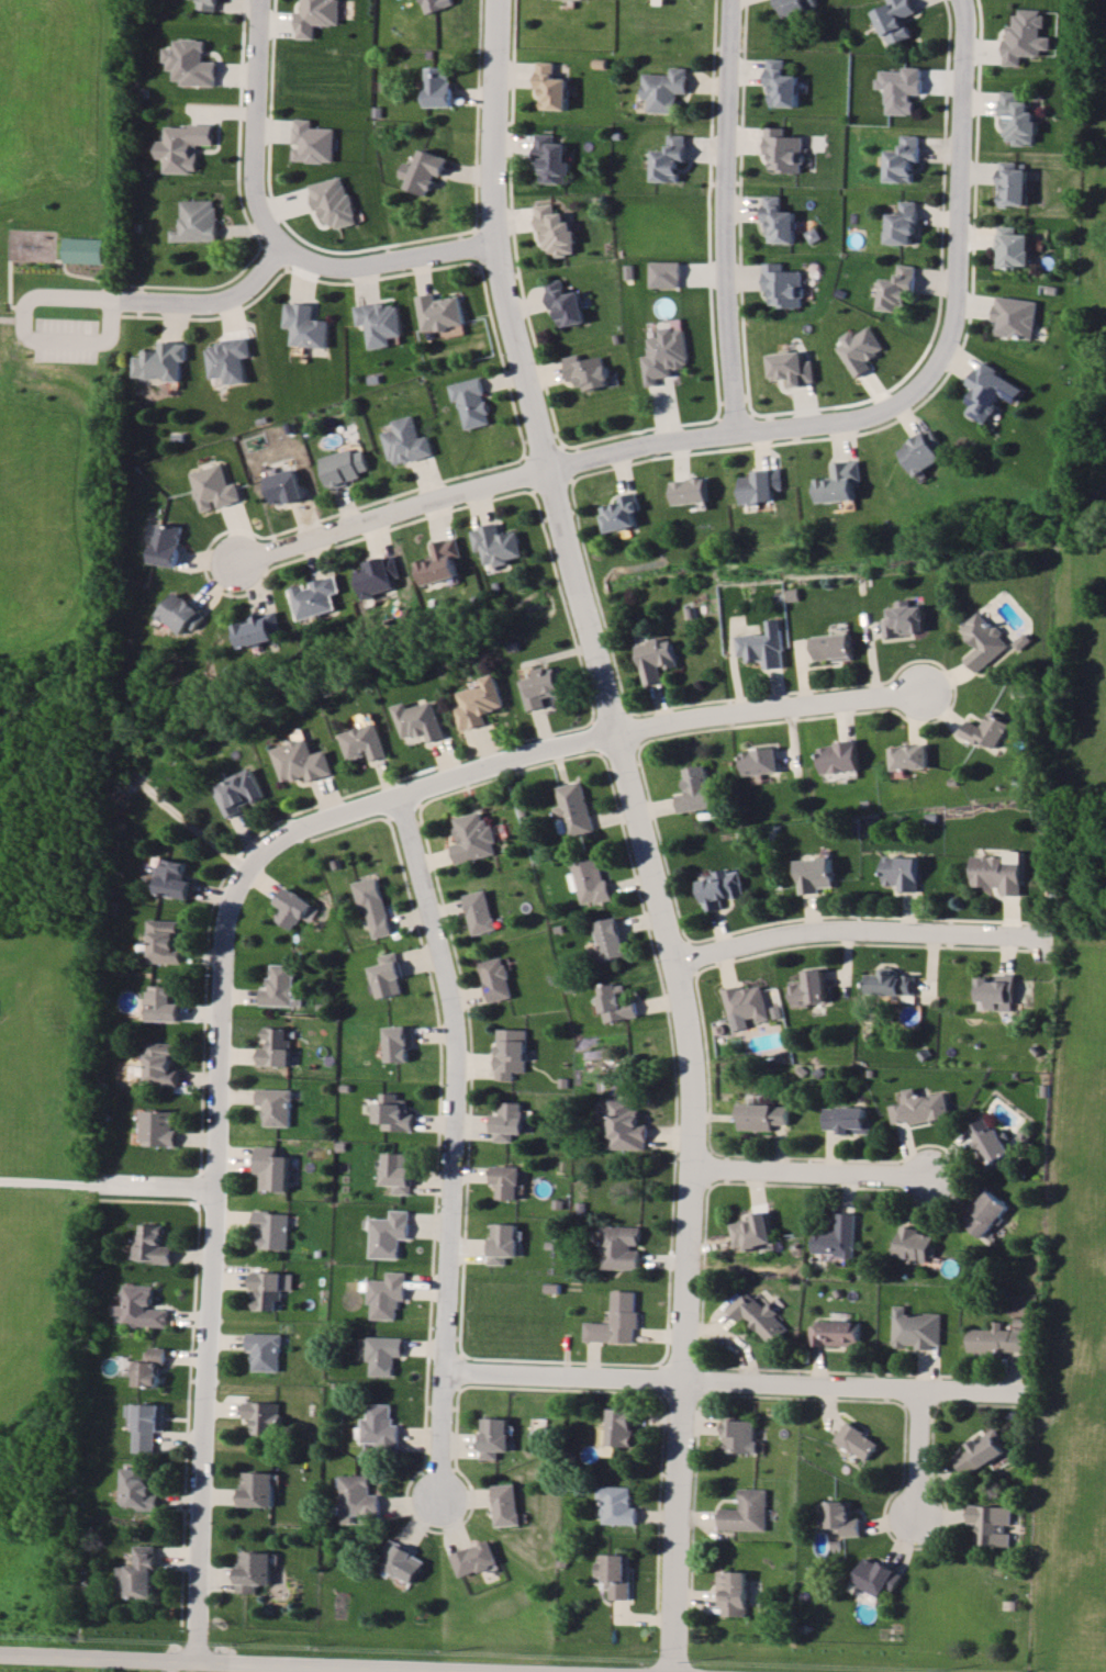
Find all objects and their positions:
building: (436, 4)
building: (208, 5)
building: (795, 5)
building: (317, 18)
building: (895, 19)
building: (1025, 24)
building: (189, 64)
building: (781, 82)
building: (550, 88)
building: (901, 88)
building: (437, 89)
building: (666, 90)
building: (1017, 104)
road: (477, 109)
road: (238, 119)
building: (313, 142)
building: (183, 148)
building: (783, 148)
building: (550, 158)
building: (668, 158)
building: (902, 158)
building: (424, 170)
building: (1012, 171)
road: (256, 194)
building: (333, 201)
road: (740, 201)
road: (711, 202)
road: (279, 205)
road: (730, 210)
road: (513, 218)
building: (777, 218)
building: (195, 221)
building: (901, 224)
building: (554, 228)
building: (1012, 234)
road: (478, 237)
road: (457, 243)
road: (272, 246)
building: (85, 250)
road: (383, 266)
road: (941, 269)
road: (209, 273)
building: (663, 274)
building: (781, 284)
building: (896, 287)
road: (139, 290)
road: (78, 291)
building: (562, 302)
building: (1014, 302)
road: (220, 305)
building: (437, 311)
road: (10, 319)
building: (378, 322)
building: (303, 324)
park: (51, 326)
road: (950, 335)
building: (857, 349)
road: (502, 350)
building: (662, 354)
building: (227, 358)
building: (160, 360)
building: (787, 367)
building: (585, 370)
road: (935, 375)
building: (990, 378)
building: (469, 401)
road: (731, 404)
road: (638, 418)
road: (543, 438)
building: (923, 438)
building: (403, 440)
road: (567, 452)
road: (527, 461)
building: (340, 465)
building: (838, 469)
building: (761, 472)
road: (550, 476)
building: (691, 478)
building: (281, 485)
building: (211, 486)
road: (442, 489)
building: (693, 491)
road: (351, 498)
building: (622, 500)
road: (356, 529)
building: (496, 542)
building: (164, 543)
building: (440, 561)
building: (377, 575)
road: (597, 586)
road: (563, 595)
building: (314, 596)
building: (179, 613)
building: (906, 619)
building: (258, 628)
building: (983, 641)
building: (766, 646)
building: (835, 647)
building: (658, 659)
building: (543, 686)
road: (767, 699)
building: (480, 703)
road: (610, 710)
road: (630, 715)
building: (421, 720)
road: (601, 729)
building: (986, 730)
road: (622, 736)
building: (365, 742)
building: (841, 756)
building: (911, 756)
building: (302, 761)
building: (761, 761)
building: (696, 789)
building: (239, 792)
building: (573, 810)
road: (644, 829)
building: (474, 838)
building: (904, 873)
building: (817, 874)
building: (999, 874)
building: (175, 878)
building: (591, 880)
building: (722, 888)
building: (375, 905)
building: (293, 908)
building: (482, 911)
road: (854, 931)
building: (612, 939)
building: (167, 942)
building: (389, 976)
building: (500, 979)
building: (891, 983)
building: (282, 986)
building: (812, 988)
building: (998, 992)
building: (618, 1002)
building: (747, 1003)
building: (165, 1005)
building: (401, 1043)
building: (277, 1047)
building: (513, 1053)
road: (220, 1059)
building: (161, 1064)
building: (277, 1106)
building: (921, 1108)
building: (394, 1113)
building: (763, 1114)
building: (848, 1120)
building: (512, 1121)
building: (624, 1124)
building: (159, 1129)
building: (991, 1141)
road: (453, 1143)
building: (273, 1168)
building: (399, 1171)
road: (809, 1174)
road: (54, 1181)
building: (509, 1181)
road: (163, 1183)
building: (987, 1215)
building: (272, 1228)
building: (755, 1231)
building: (391, 1234)
building: (839, 1237)
building: (915, 1238)
building: (505, 1242)
building: (153, 1244)
building: (623, 1247)
building: (271, 1289)
crop: (32, 1295)
building: (390, 1295)
building: (142, 1308)
building: (759, 1316)
building: (619, 1320)
building: (917, 1328)
building: (838, 1334)
building: (997, 1339)
building: (268, 1351)
building: (388, 1355)
building: (153, 1367)
road: (735, 1381)
building: (267, 1416)
building: (152, 1425)
building: (386, 1428)
building: (622, 1428)
building: (741, 1436)
building: (498, 1437)
building: (858, 1441)
building: (982, 1451)
road: (918, 1452)
building: (143, 1489)
building: (261, 1489)
building: (361, 1499)
building: (510, 1505)
building: (621, 1505)
building: (749, 1512)
building: (844, 1519)
building: (992, 1524)
building: (477, 1559)
building: (404, 1561)
building: (257, 1571)
building: (142, 1574)
building: (618, 1574)
building: (878, 1576)
building: (735, 1593)
road: (40, 1656)
road: (346, 1662)
road: (171, 1664)
road: (387, 1668)
road: (550, 1669)

